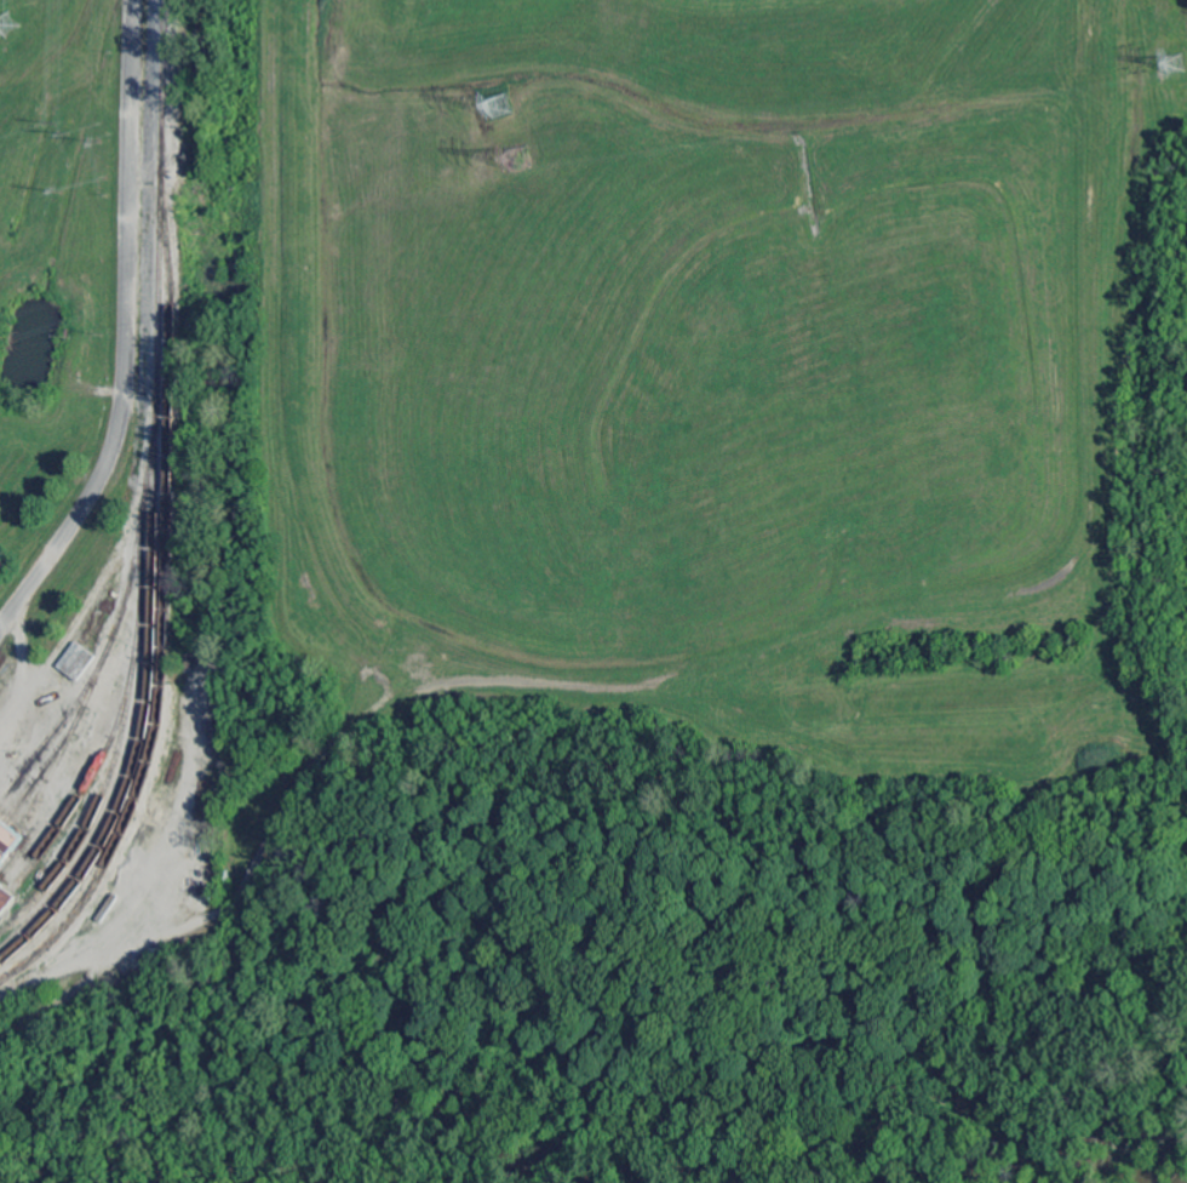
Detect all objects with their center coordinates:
railway: (144, 495)
building: (8, 842)
building: (6, 899)
railway: (7, 976)

